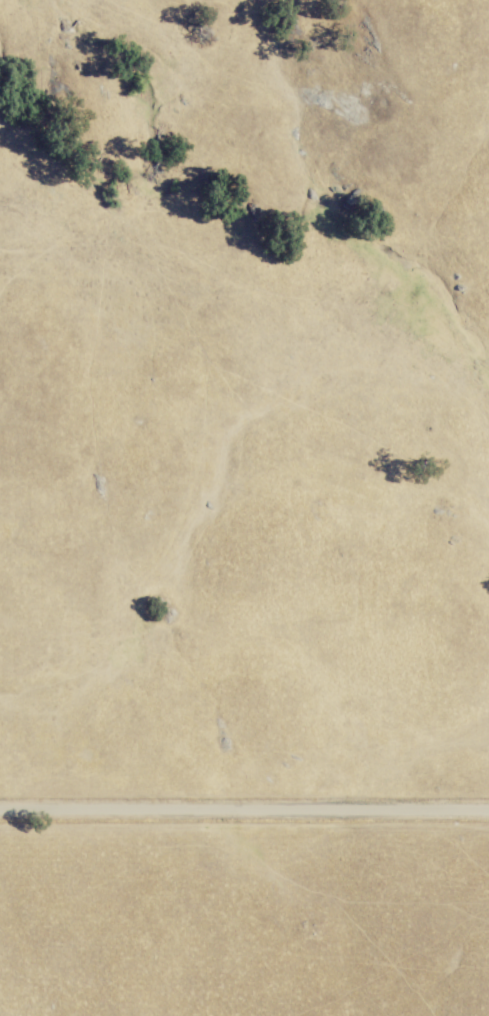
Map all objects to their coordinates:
road: (244, 808)

